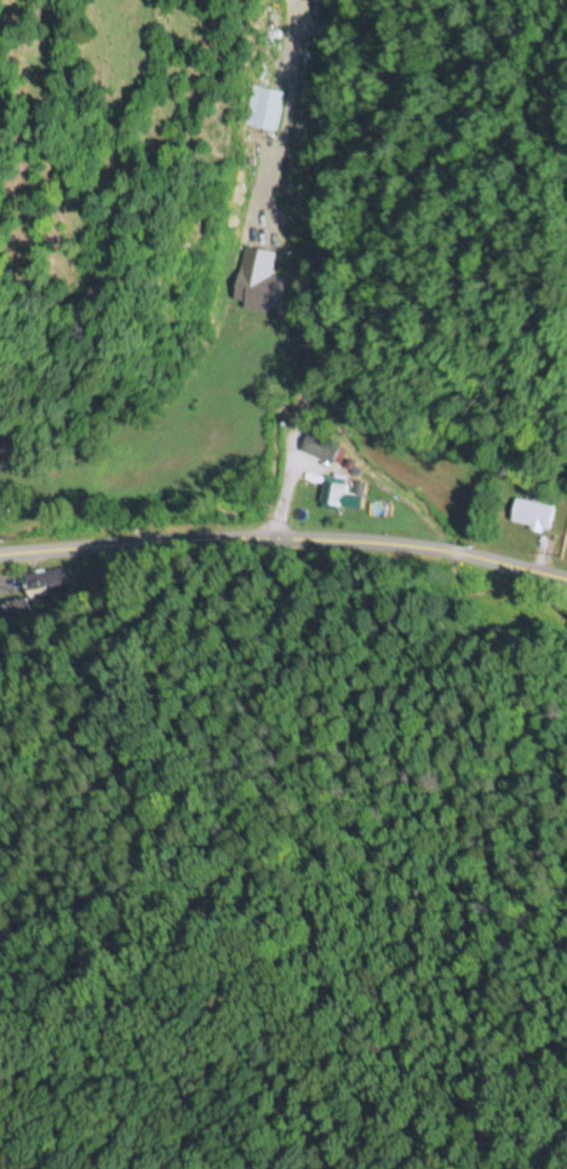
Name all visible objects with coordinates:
building: (263, 262)
road: (319, 269)
building: (322, 447)
building: (337, 495)
building: (531, 511)
road: (130, 538)
road: (416, 546)

